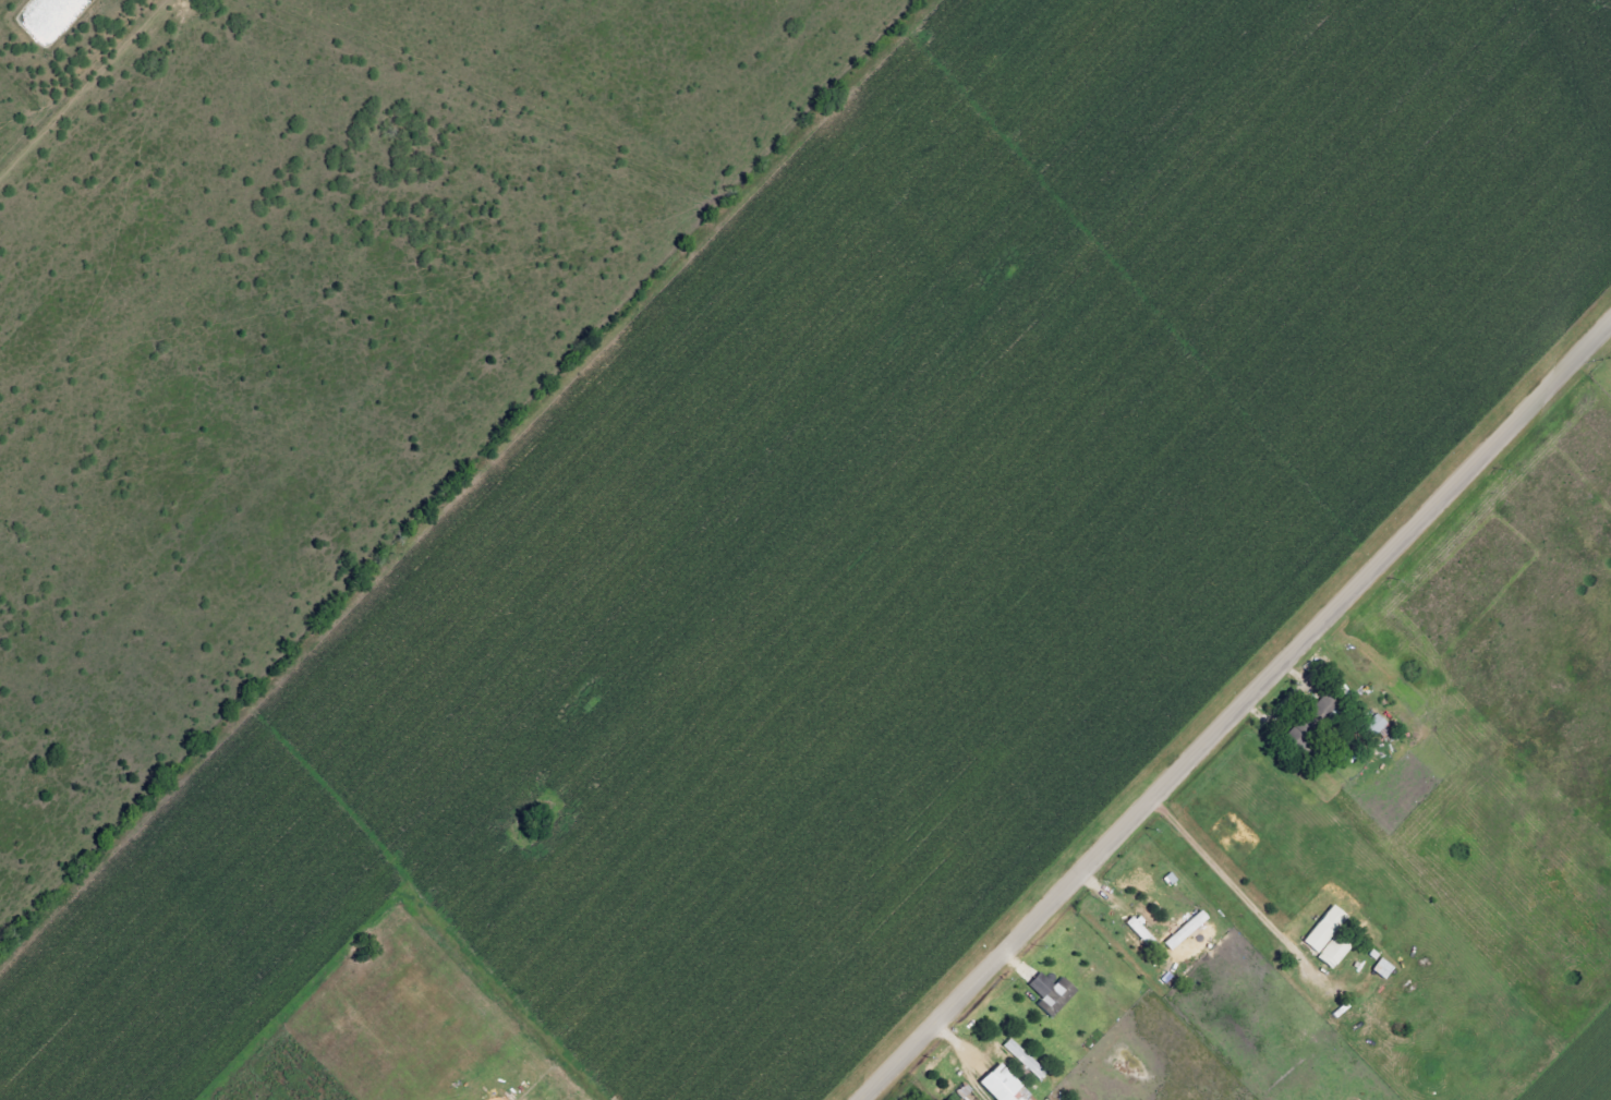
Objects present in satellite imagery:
road: (1237, 713)
building: (1374, 725)
road: (1222, 875)
building: (1184, 930)
building: (1321, 933)
building: (1142, 939)
building: (1331, 955)
building: (1049, 995)
building: (1022, 1057)
crop: (1582, 1069)
building: (1002, 1086)

